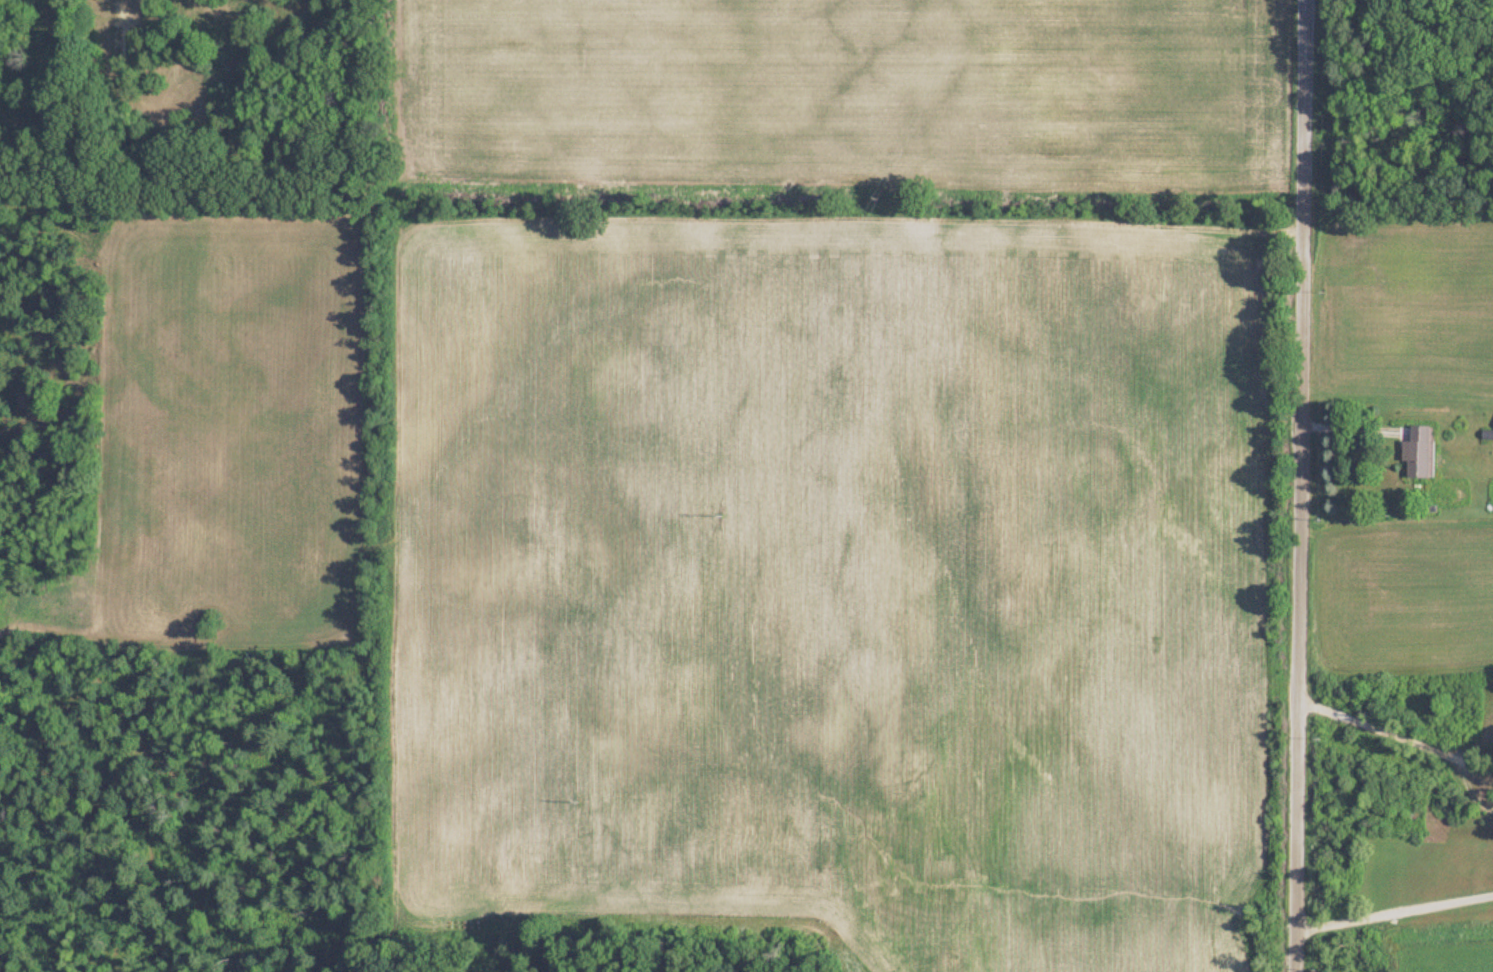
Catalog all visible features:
building: (1414, 454)
road: (1293, 485)
road: (1392, 730)
road: (1390, 909)

